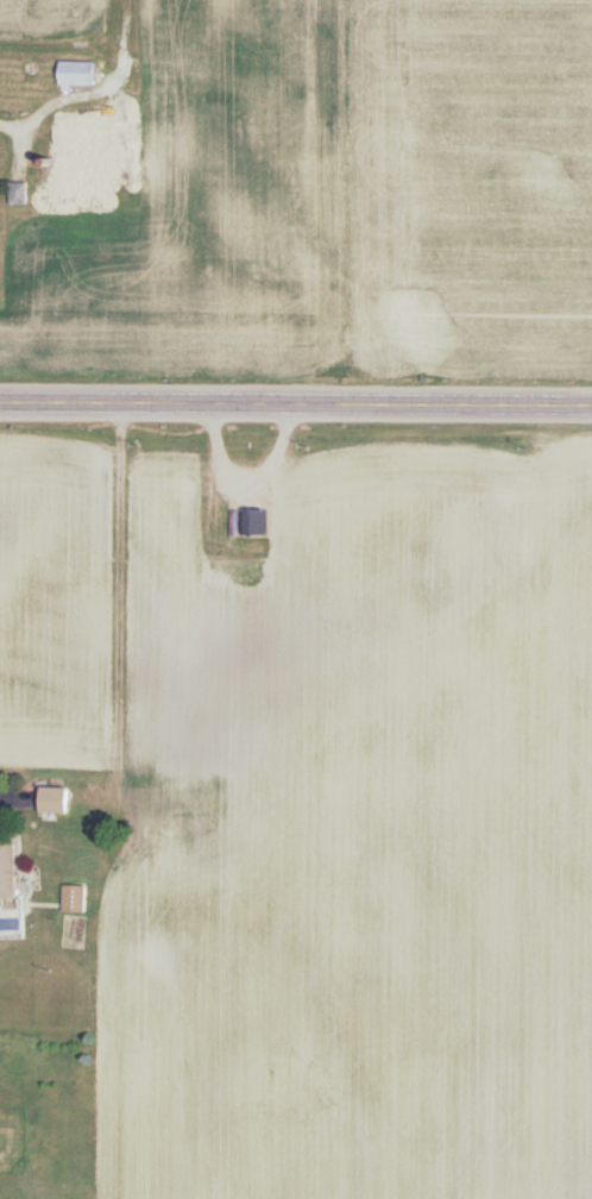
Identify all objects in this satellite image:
building: (71, 75)
road: (6, 125)
building: (68, 149)
road: (295, 409)
building: (246, 528)
road: (4, 797)
building: (188, 802)
building: (48, 805)
building: (5, 872)
building: (69, 904)

